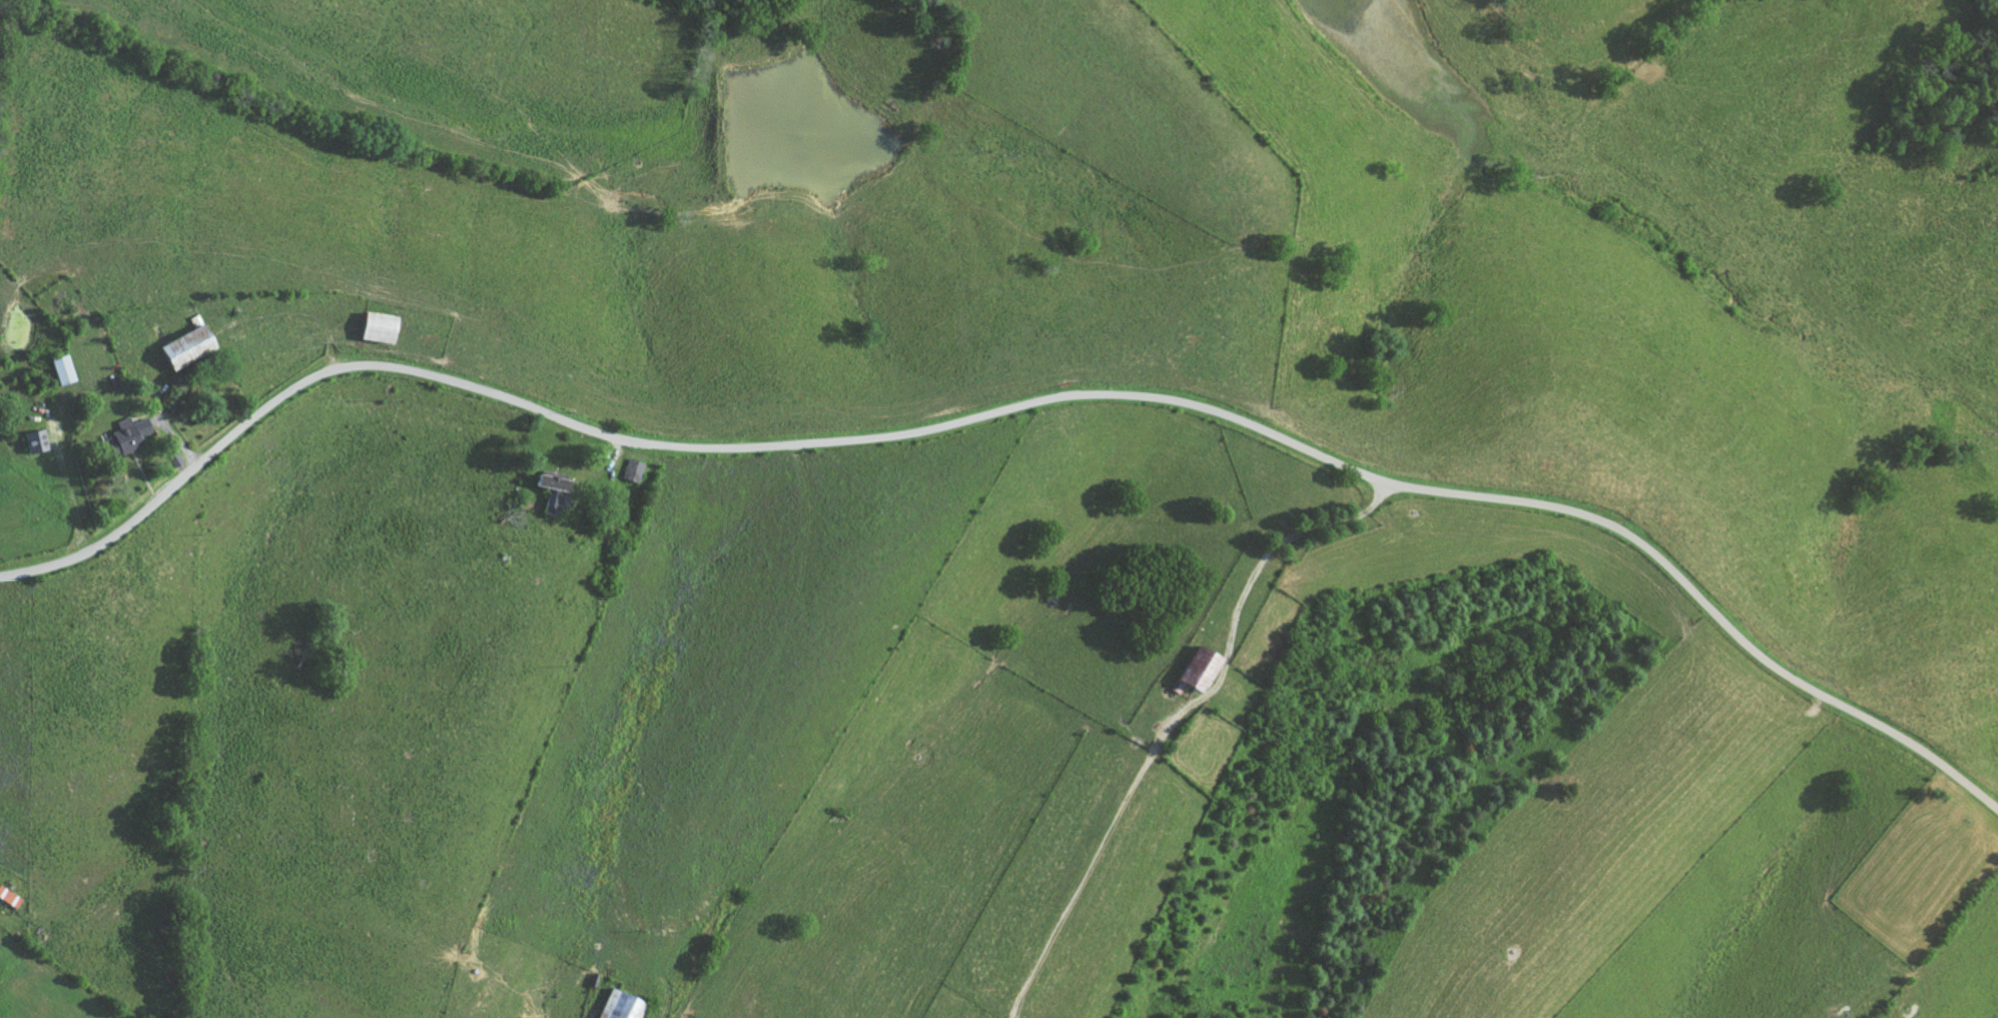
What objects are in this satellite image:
building: (188, 347)
road: (1017, 409)
building: (129, 436)
building: (634, 472)
building: (1202, 669)
road: (1176, 719)
building: (9, 896)
building: (623, 1006)

